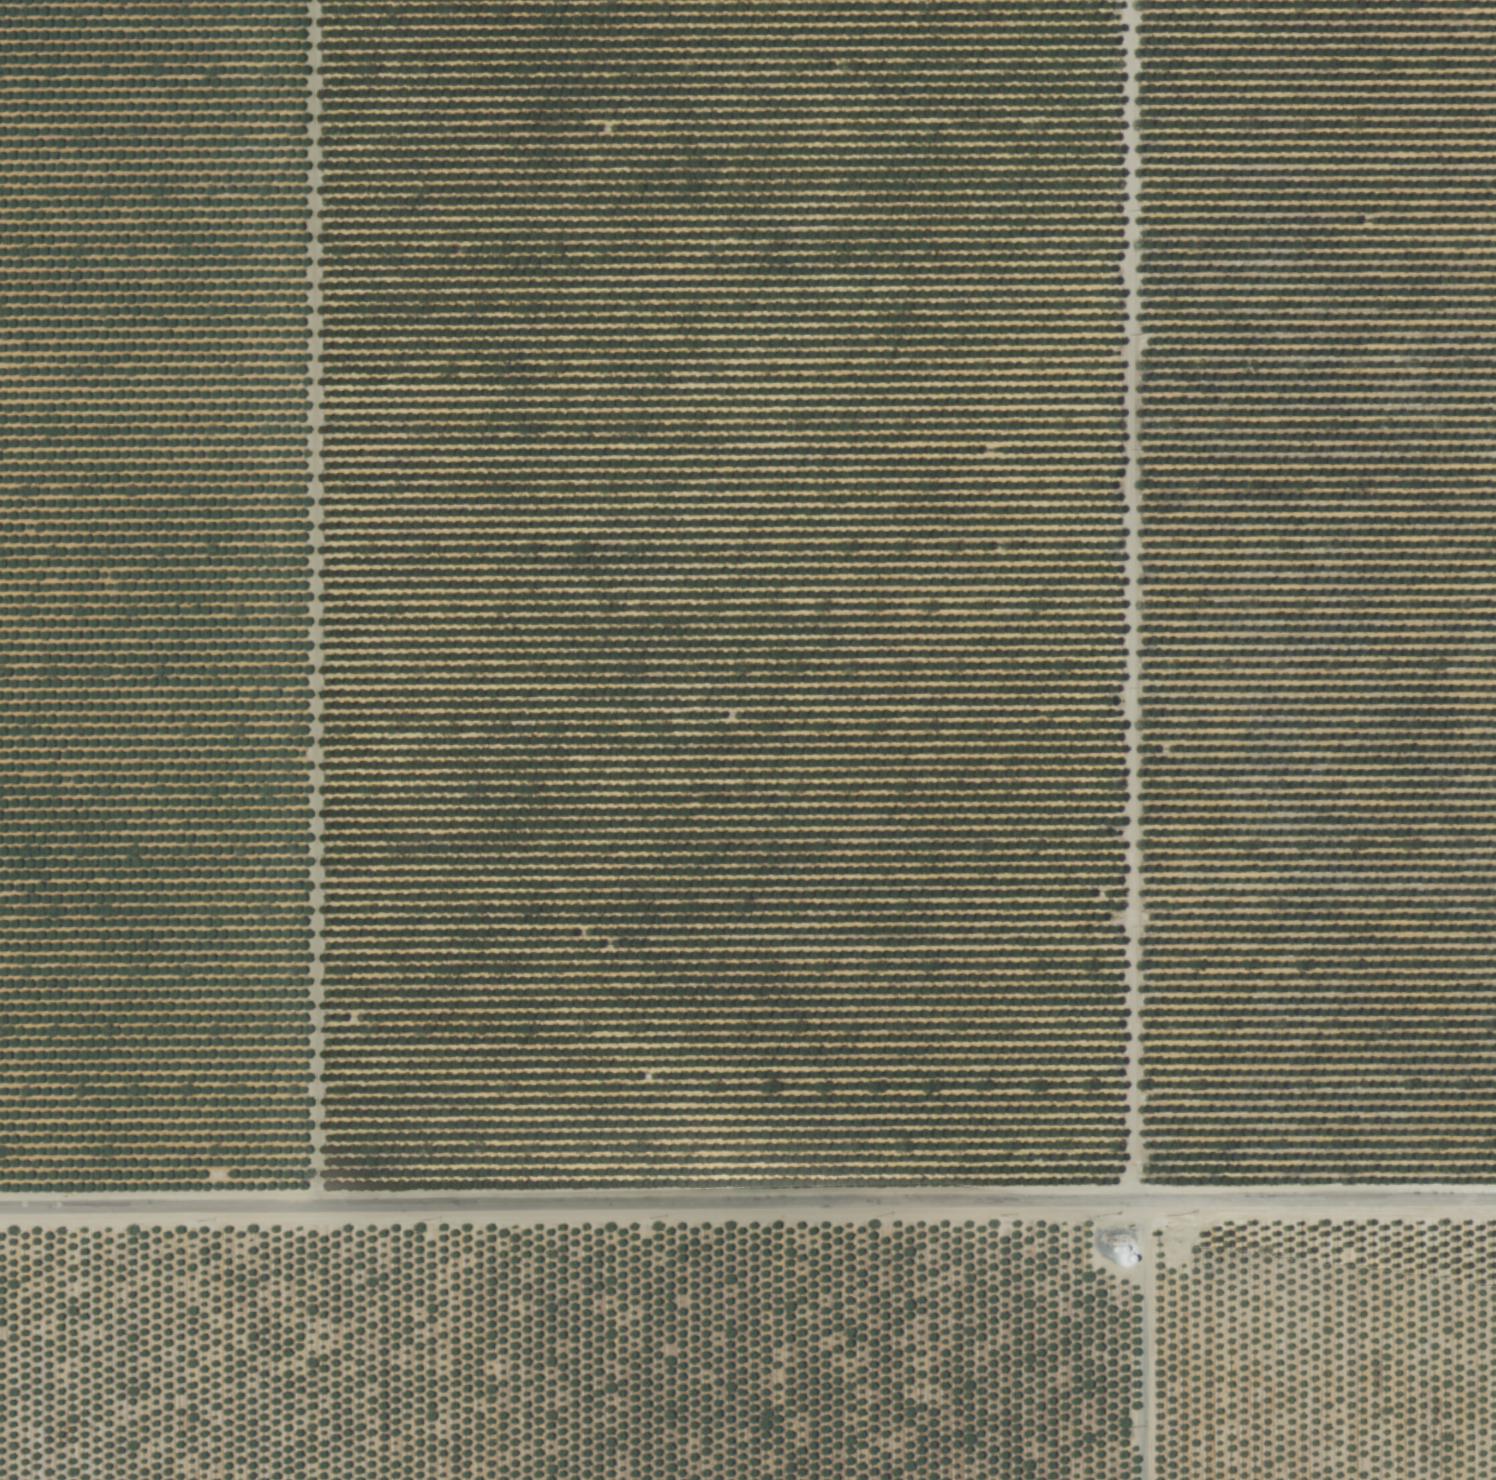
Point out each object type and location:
crop: (722, 712)
road: (748, 1215)

